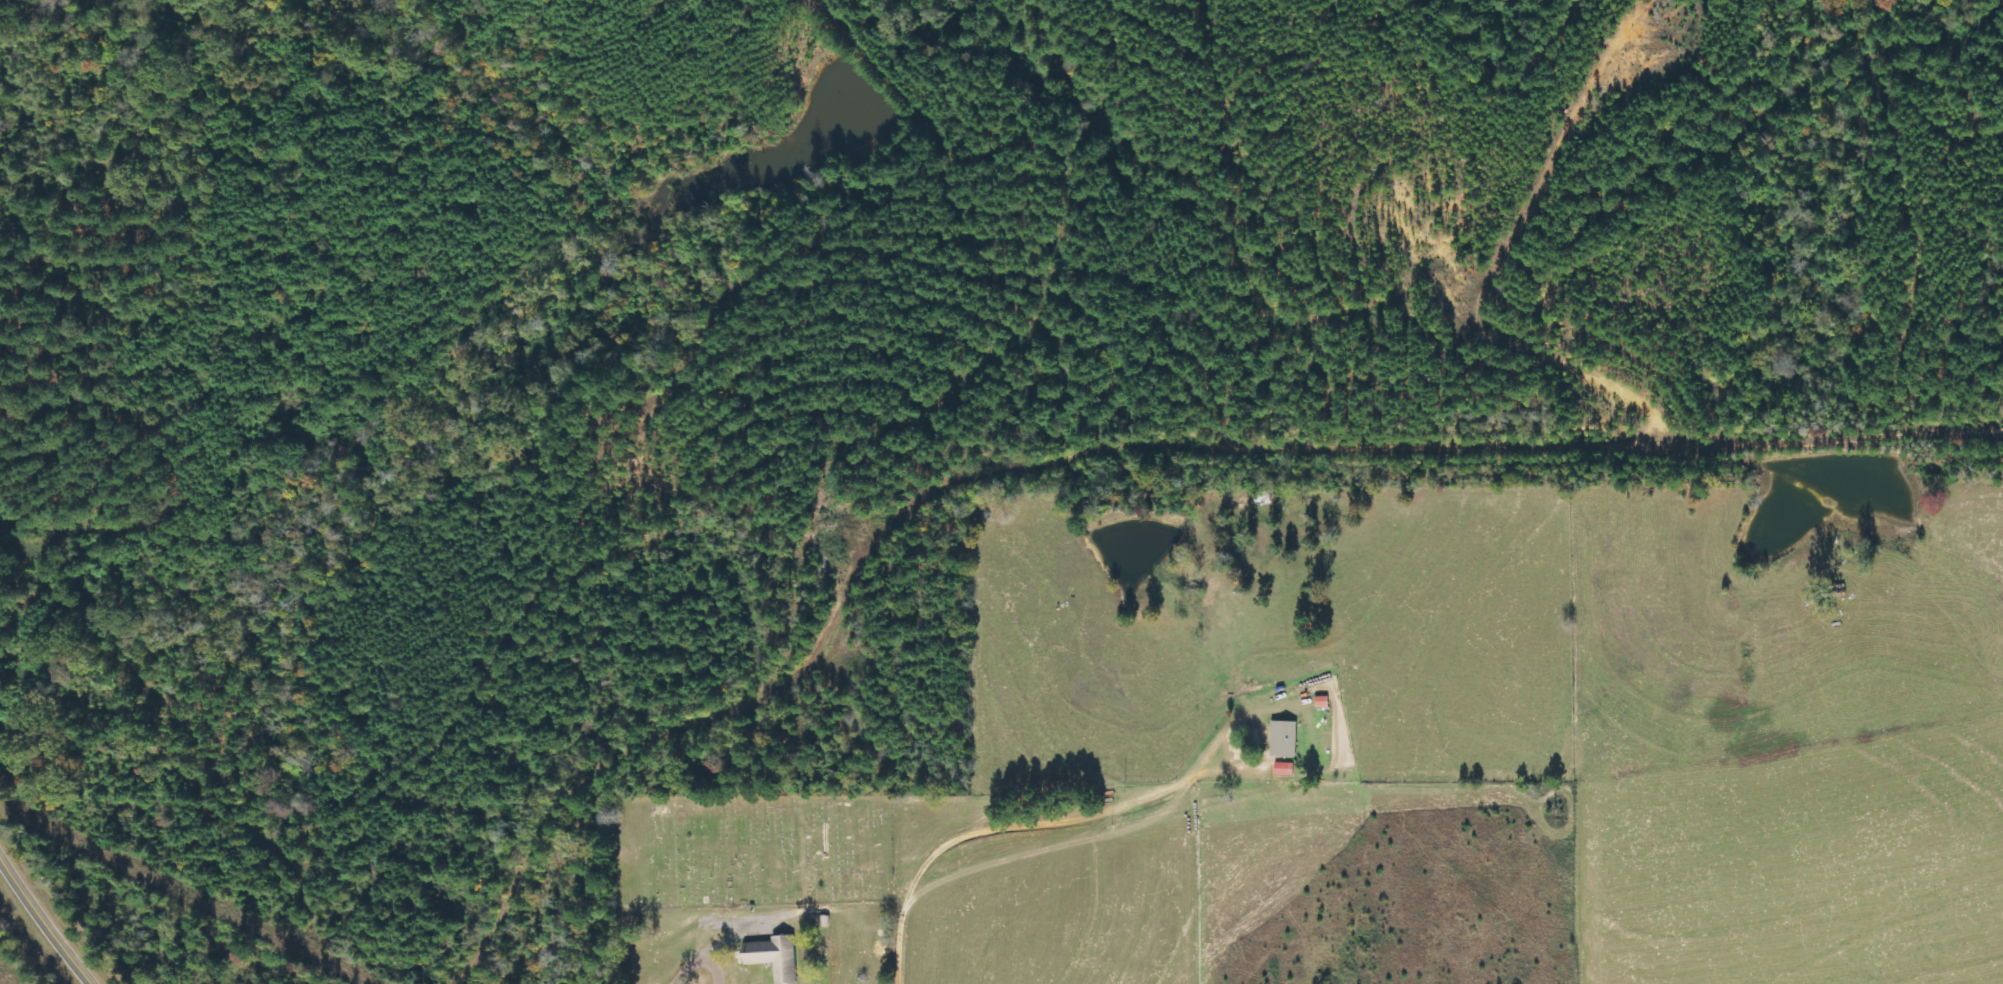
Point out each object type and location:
building: (1285, 739)
building: (1286, 768)
park: (781, 851)
road: (45, 918)
road: (728, 947)
building: (776, 957)

